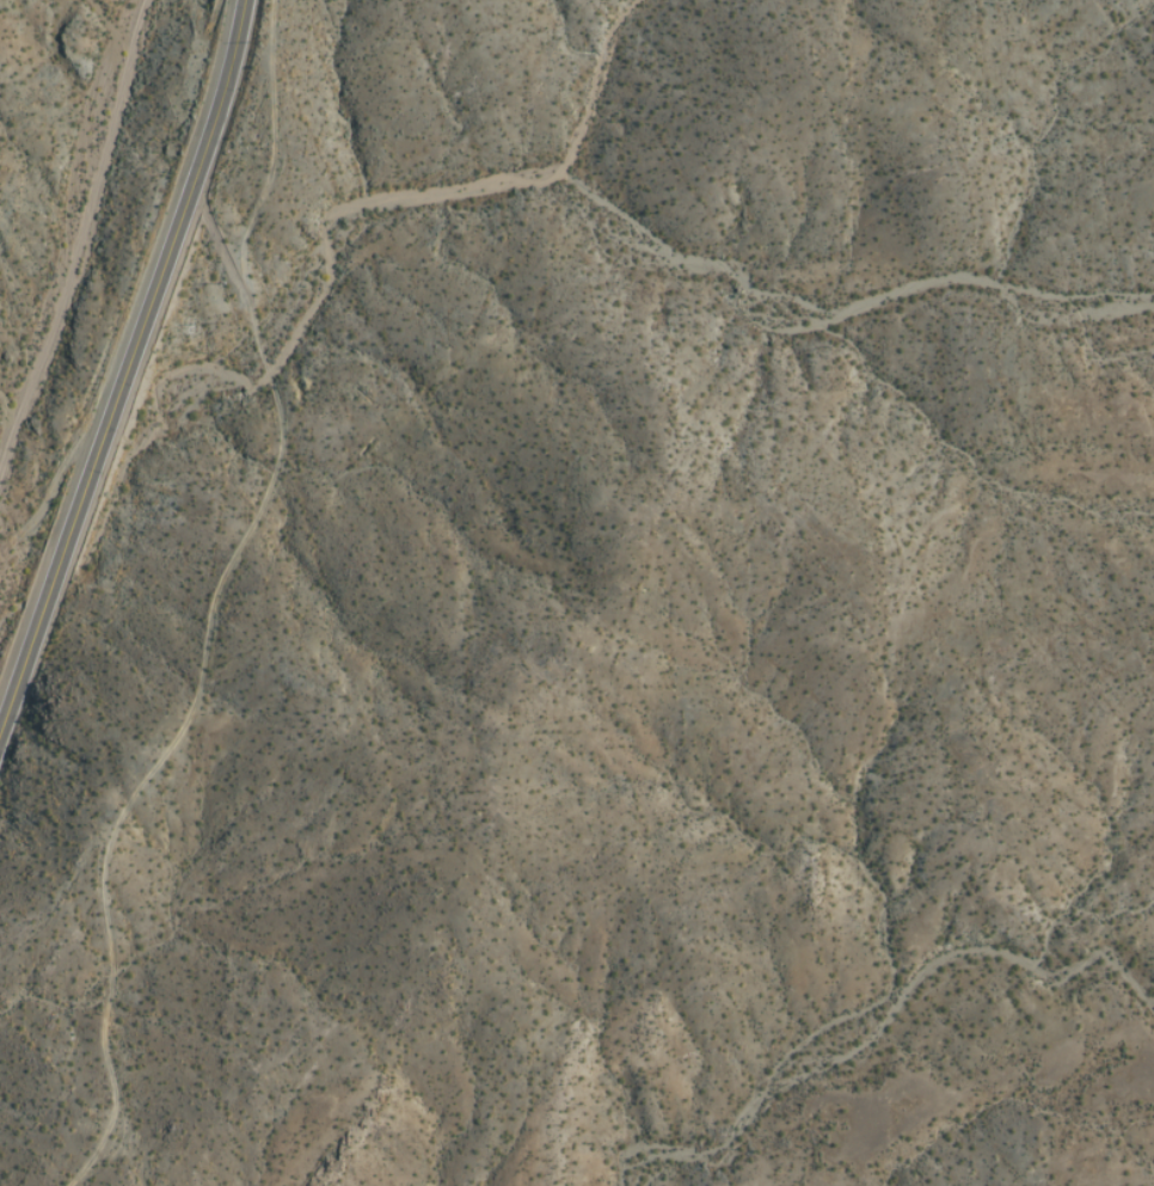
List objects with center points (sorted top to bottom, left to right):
road: (129, 369)

